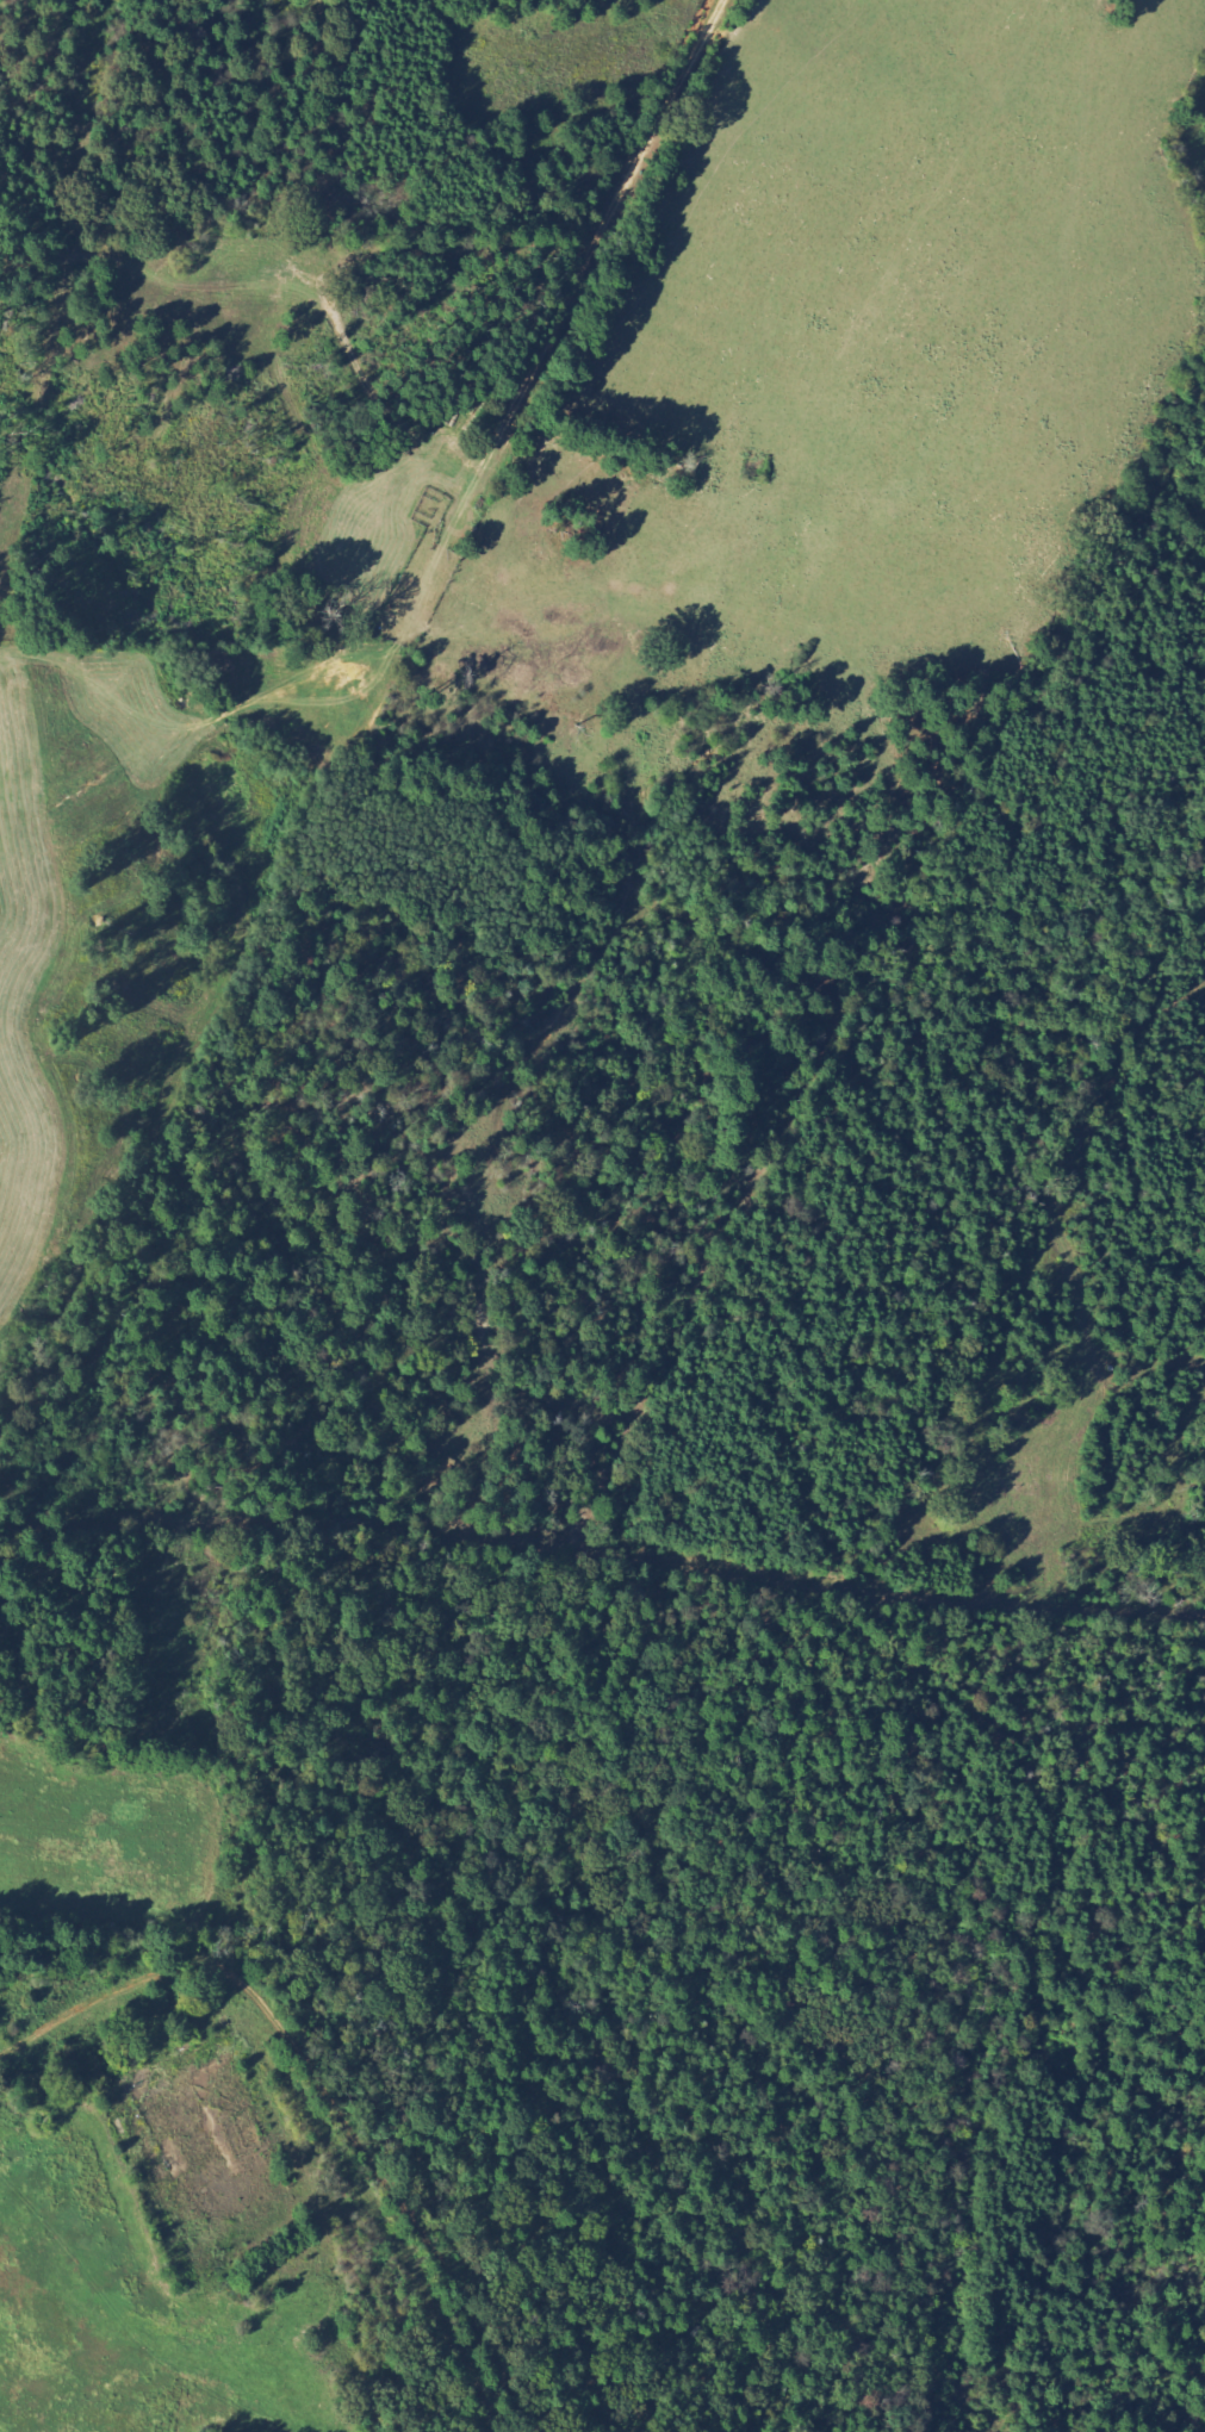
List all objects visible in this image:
road: (327, 2089)

